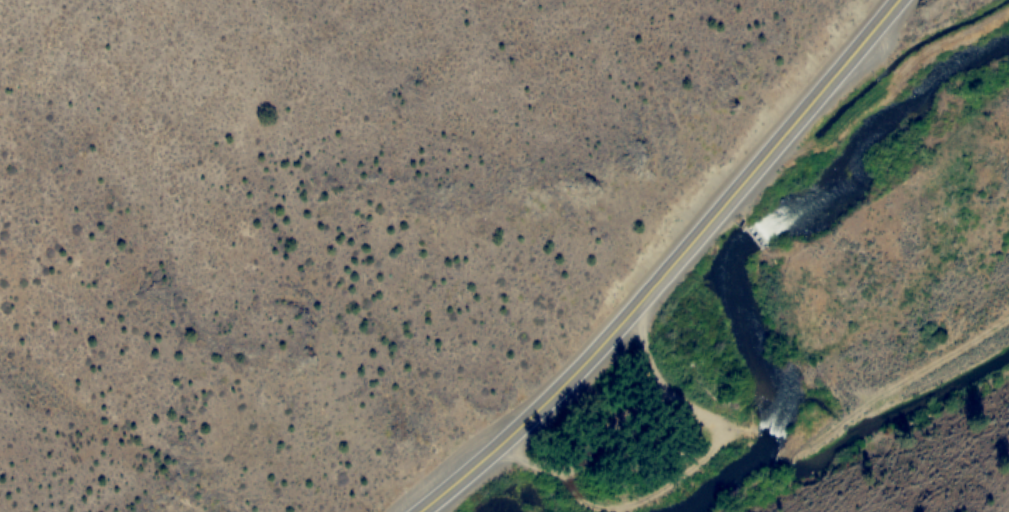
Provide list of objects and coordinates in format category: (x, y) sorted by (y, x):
building: (779, 224)
river: (754, 240)
road: (667, 267)

